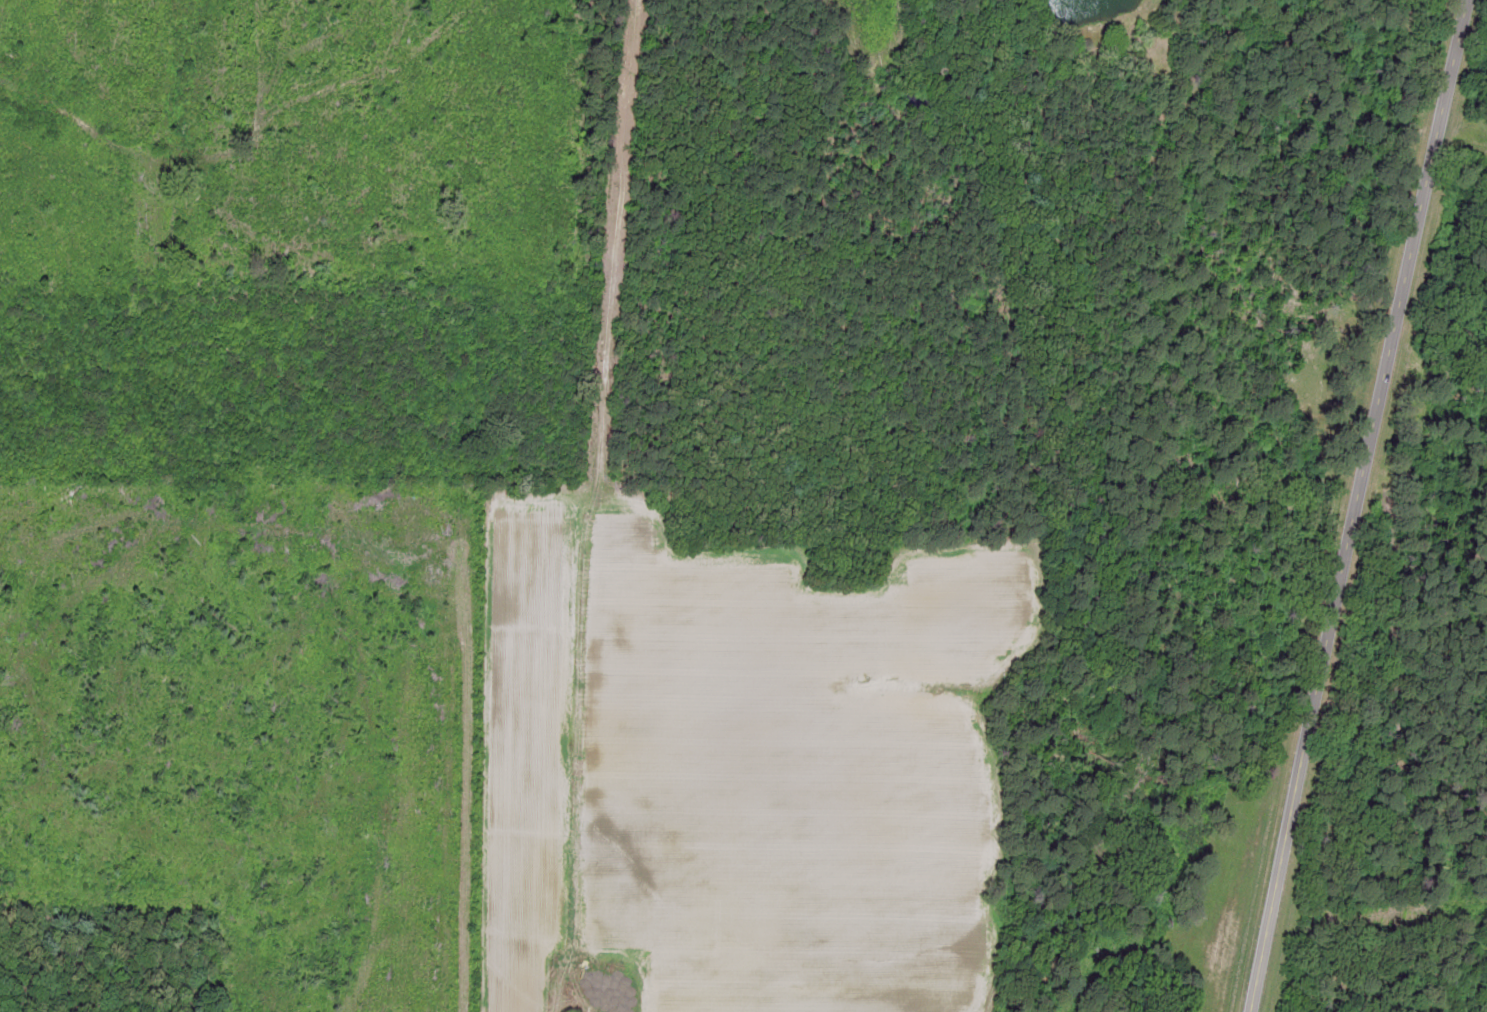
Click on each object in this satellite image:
road: (1353, 506)
road: (1477, 988)

